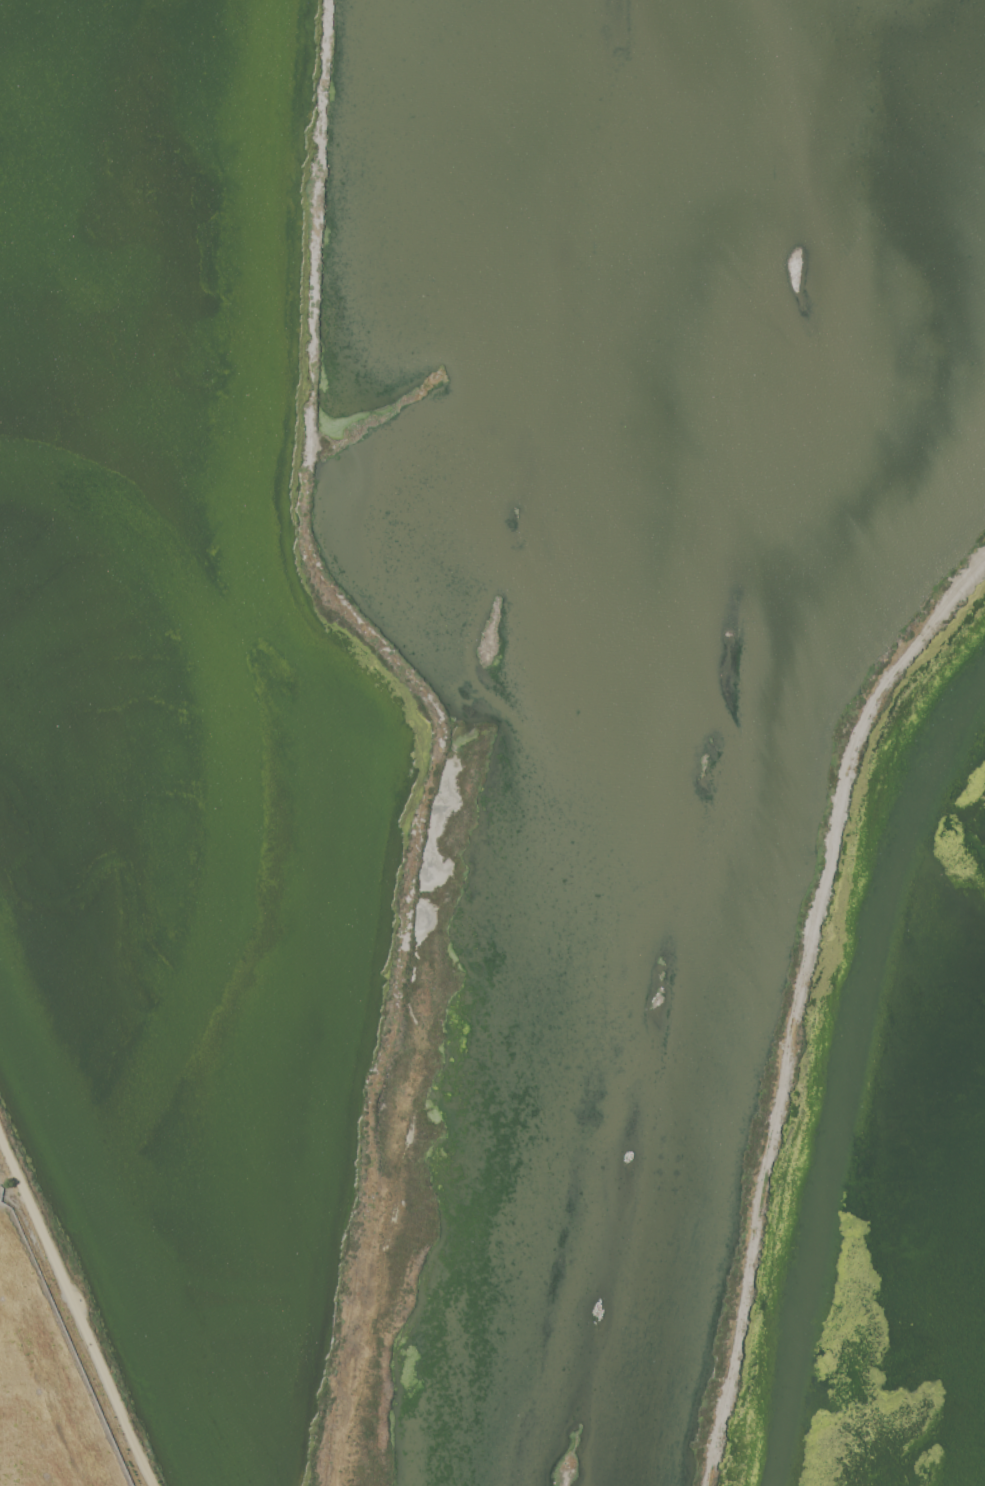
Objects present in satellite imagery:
road: (441, 727)
road: (75, 1312)
road: (73, 1336)

